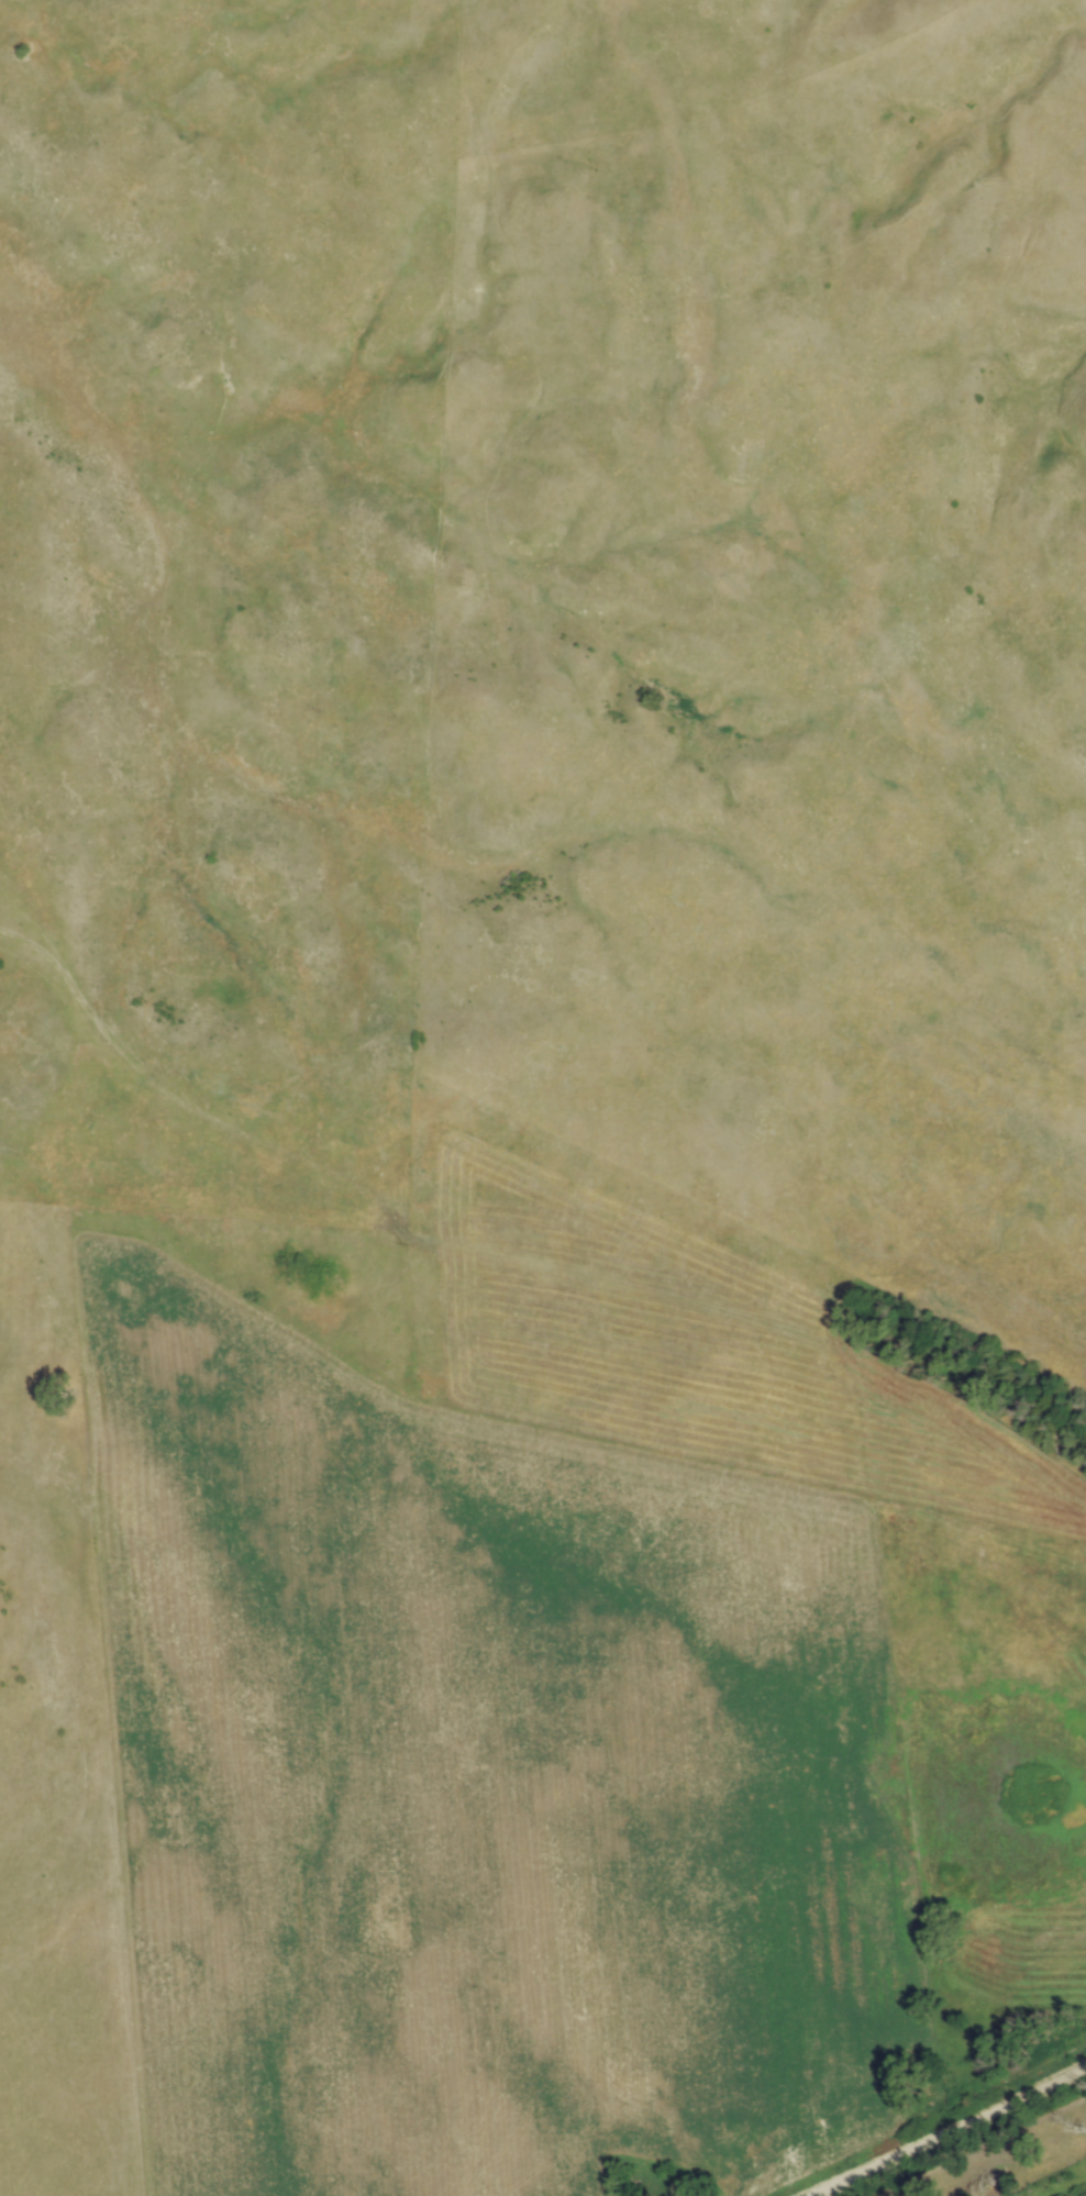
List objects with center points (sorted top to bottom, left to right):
road: (951, 2132)

